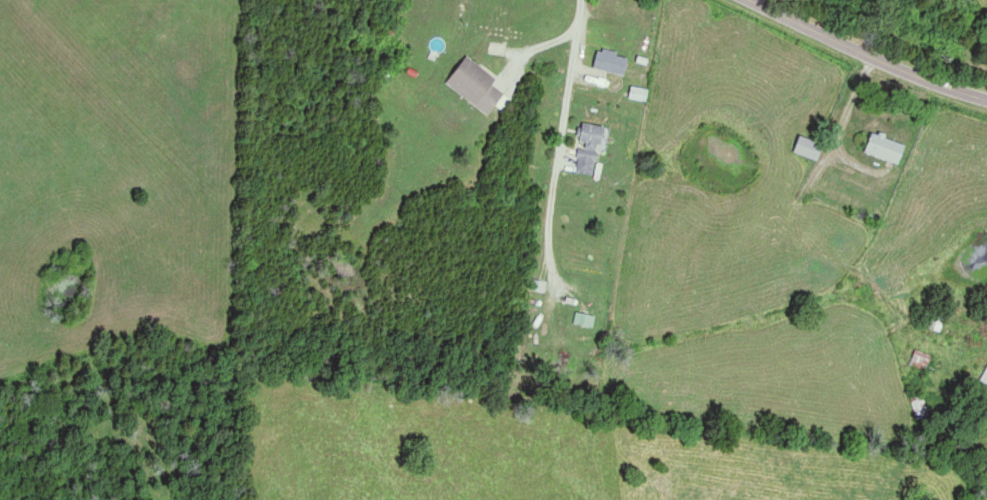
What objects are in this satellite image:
road: (868, 52)
building: (607, 61)
building: (635, 93)
road: (559, 128)
building: (586, 147)
building: (804, 147)
building: (881, 147)
building: (583, 319)
building: (933, 322)
building: (918, 359)
building: (984, 377)

